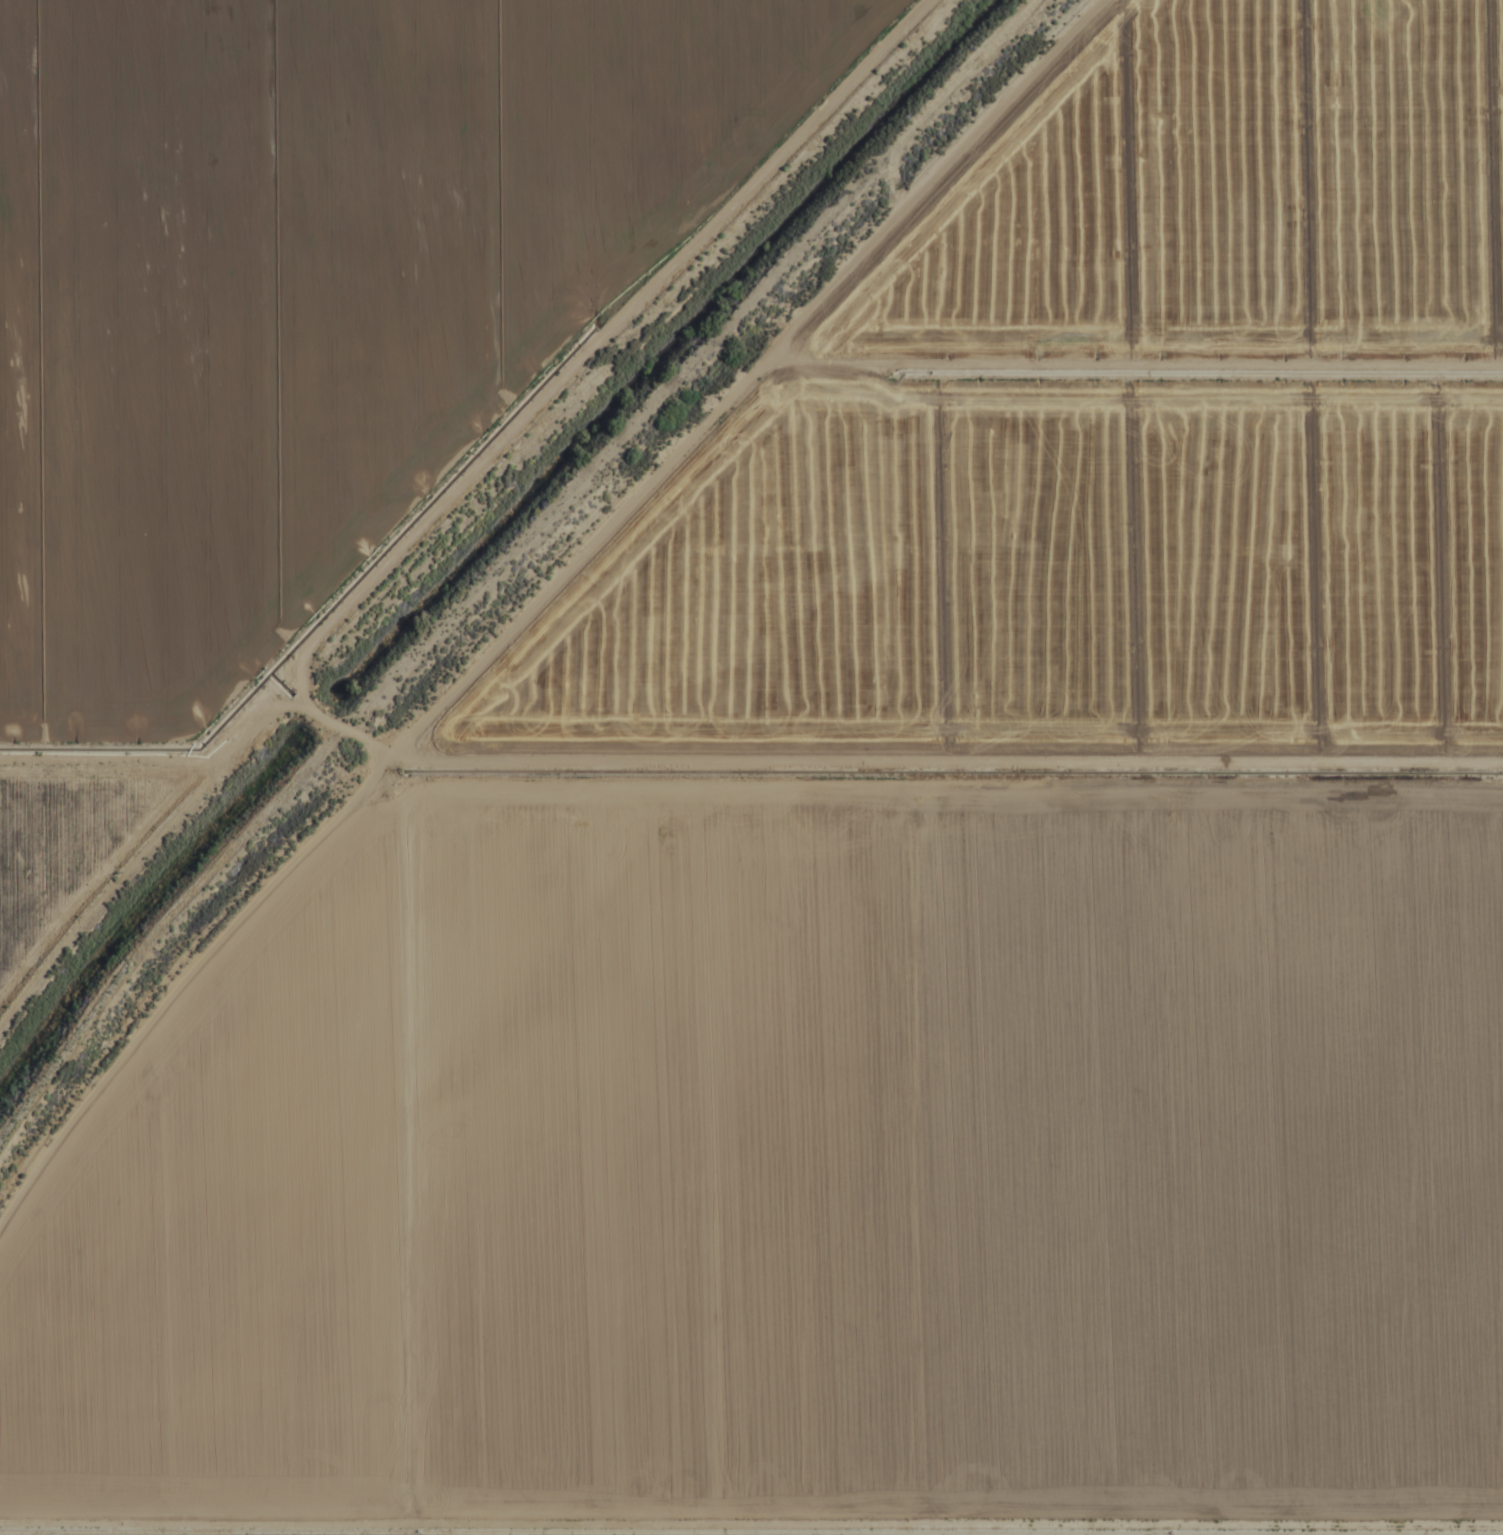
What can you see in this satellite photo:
road: (588, 765)
crop: (751, 767)

